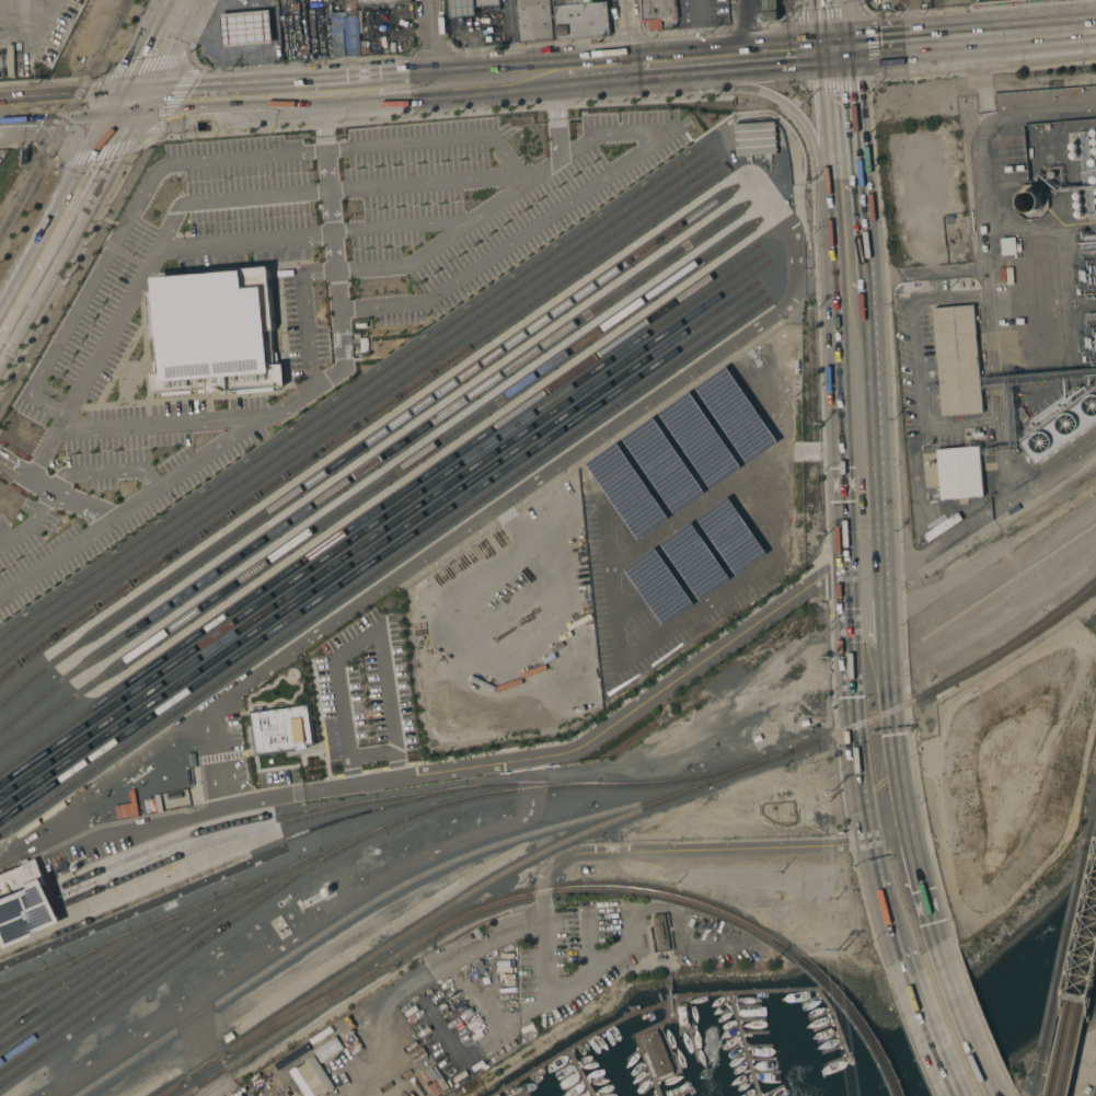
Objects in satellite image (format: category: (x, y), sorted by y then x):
building: (380, 2)
building: (468, 7)
building: (770, 10)
building: (658, 12)
building: (580, 19)
building: (535, 20)
road: (191, 24)
road: (834, 25)
building: (246, 28)
road: (742, 30)
road: (700, 31)
building: (346, 32)
road: (627, 33)
road: (510, 38)
road: (432, 41)
road: (967, 41)
building: (365, 46)
traffic signals: (838, 51)
road: (151, 53)
road: (232, 54)
road: (735, 59)
road: (592, 70)
road: (533, 74)
road: (222, 77)
road: (319, 91)
traffic signals: (124, 105)
road: (61, 107)
road: (792, 107)
railway: (65, 114)
road: (555, 116)
road: (322, 120)
building: (1093, 132)
building: (754, 138)
road: (434, 140)
building: (1093, 141)
building: (1072, 146)
building: (1094, 151)
building: (1073, 155)
road: (844, 157)
building: (1095, 162)
road: (326, 170)
building: (1050, 174)
road: (425, 184)
building: (1095, 192)
building: (1076, 196)
building: (1029, 201)
building: (1077, 205)
building: (1078, 214)
road: (546, 217)
road: (62, 218)
road: (402, 224)
road: (331, 230)
road: (453, 233)
road: (243, 241)
road: (157, 244)
building: (1008, 246)
road: (104, 255)
road: (920, 272)
building: (1084, 275)
parking lot: (295, 280)
road: (335, 291)
building: (215, 332)
road: (307, 339)
building: (1087, 342)
road: (994, 351)
building: (957, 360)
railway: (351, 390)
railway: (355, 400)
railway: (357, 411)
building: (735, 415)
railway: (360, 422)
road: (162, 423)
building: (1062, 427)
road: (861, 431)
building: (700, 440)
railway: (362, 443)
road: (211, 451)
railway: (369, 464)
building: (662, 465)
building: (959, 472)
road: (77, 473)
railway: (377, 483)
building: (626, 492)
road: (80, 505)
railway: (377, 508)
parking lot: (682, 517)
railway: (380, 518)
road: (32, 523)
railway: (383, 528)
building: (730, 537)
road: (77, 542)
railway: (377, 545)
railway: (379, 555)
building: (694, 562)
railway: (382, 566)
building: (658, 587)
road: (868, 623)
road: (359, 639)
building: (282, 729)
road: (372, 754)
road: (466, 768)
railway: (414, 793)
road: (886, 798)
railway: (615, 818)
railway: (1093, 826)
railway: (211, 842)
road: (649, 851)
railway: (229, 862)
railway: (293, 864)
railway: (588, 887)
railway: (372, 900)
railway: (24, 901)
building: (25, 903)
railway: (27, 918)
building: (661, 932)
railway: (185, 939)
railway: (143, 945)
railway: (1065, 951)
railway: (104, 955)
railway: (64, 965)
railway: (161, 969)
railway: (118, 973)
road: (417, 977)
railway: (22, 978)
railway: (76, 979)
railway: (34, 984)
railway: (1074, 995)
railway: (299, 1010)
building: (682, 1015)
building: (647, 1016)
railway: (860, 1022)
railway: (1080, 1022)
road: (944, 1025)
railway: (279, 1031)
building: (229, 1037)
building: (328, 1049)
building: (656, 1053)
building: (321, 1073)
railway: (1038, 1080)
railway: (170, 1088)
building: (1087, 1089)
building: (498, 1095)

